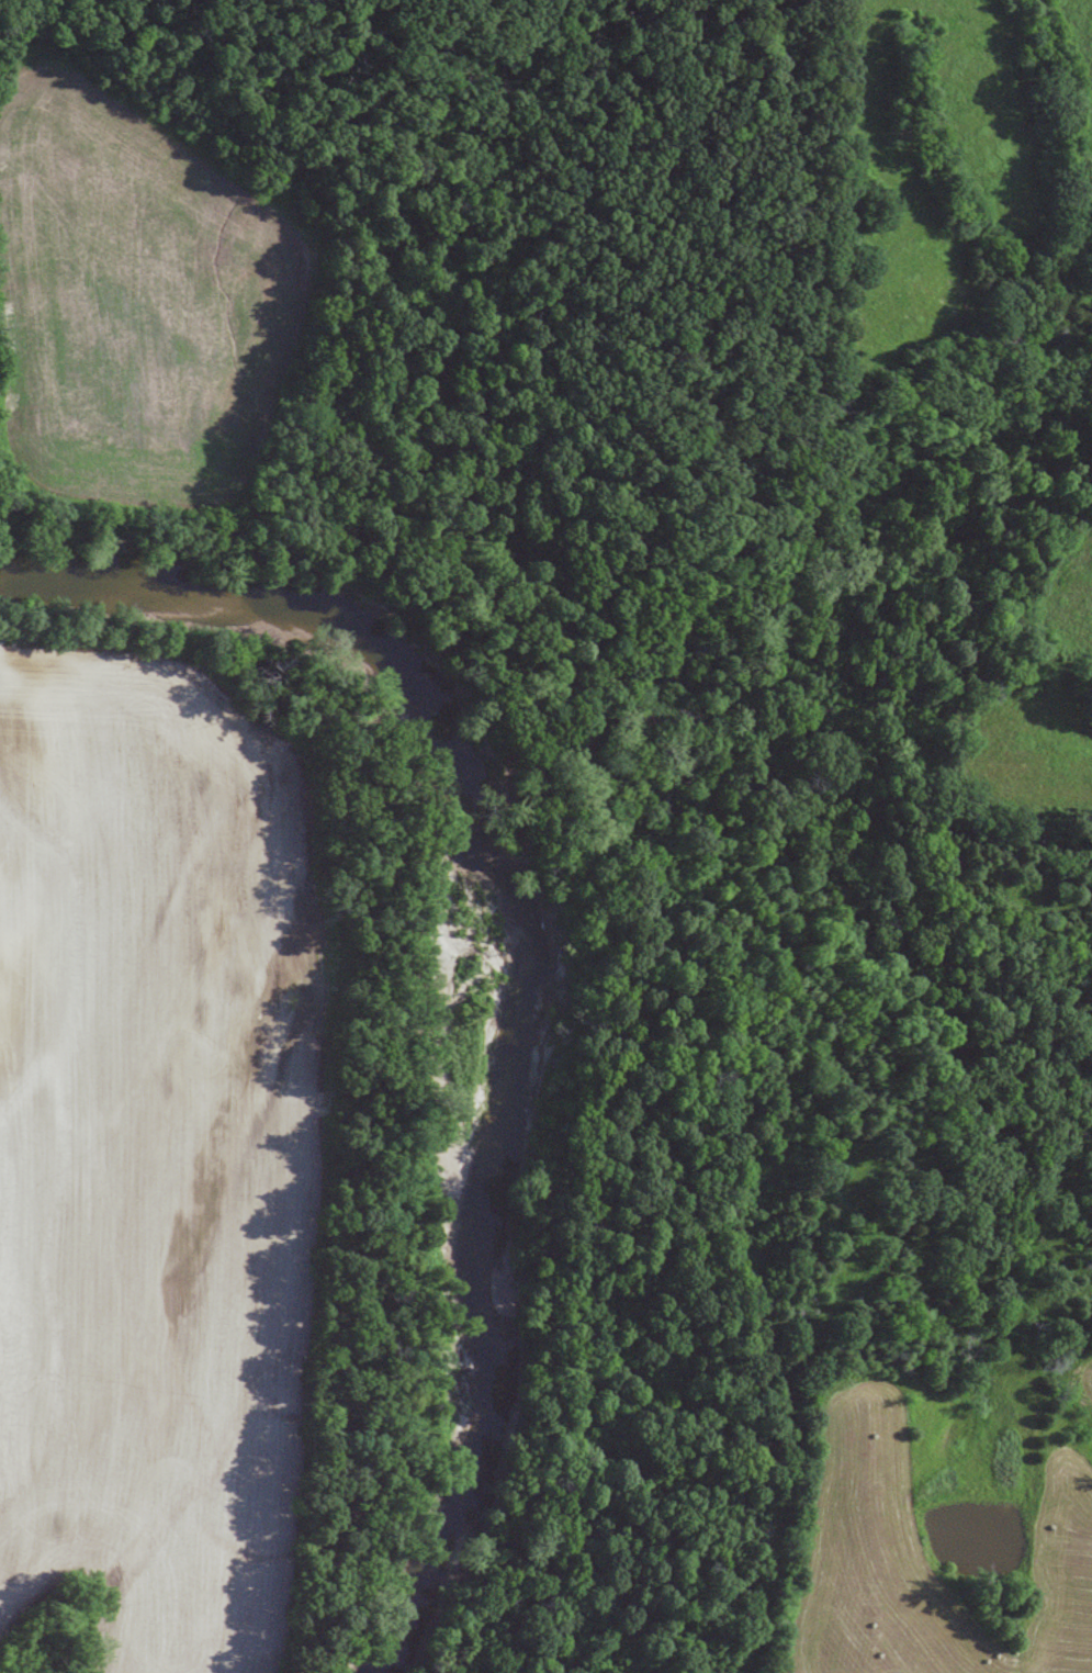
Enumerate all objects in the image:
river: (529, 956)

